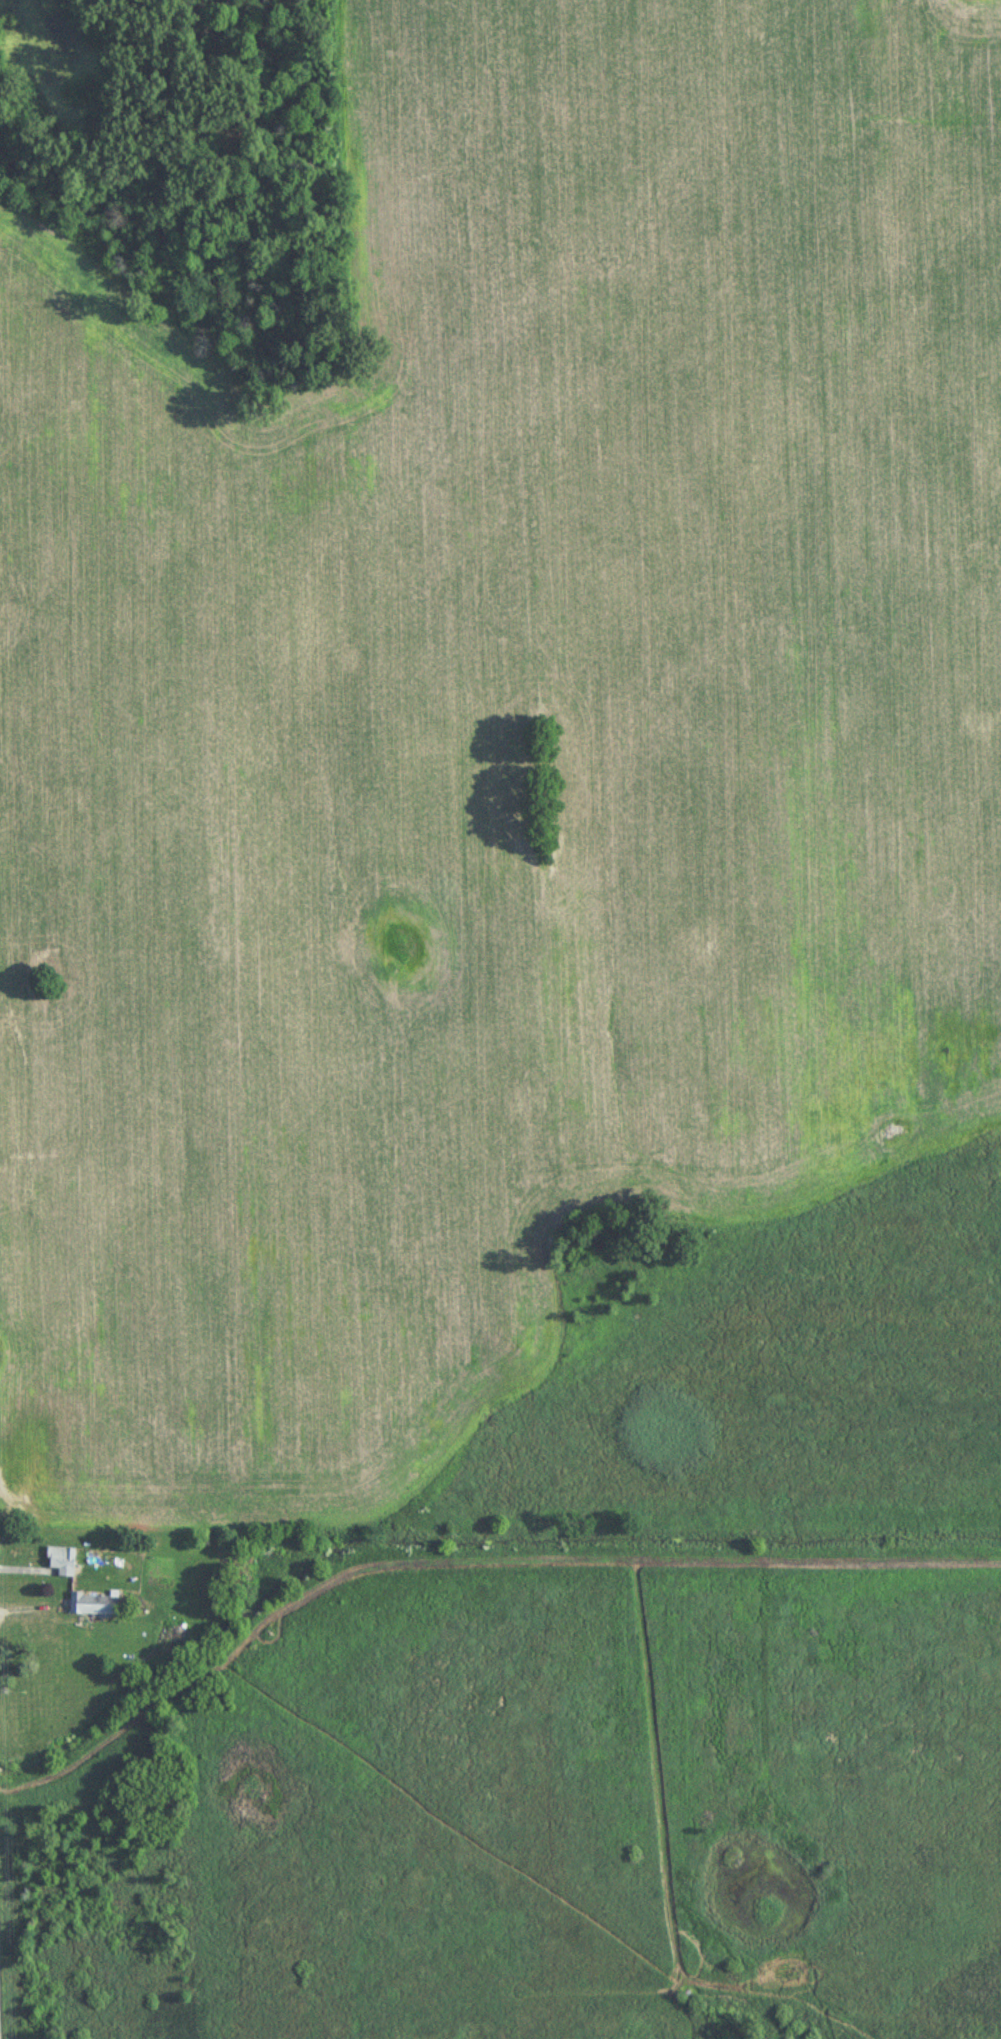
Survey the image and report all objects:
building: (61, 1561)
building: (93, 1605)

